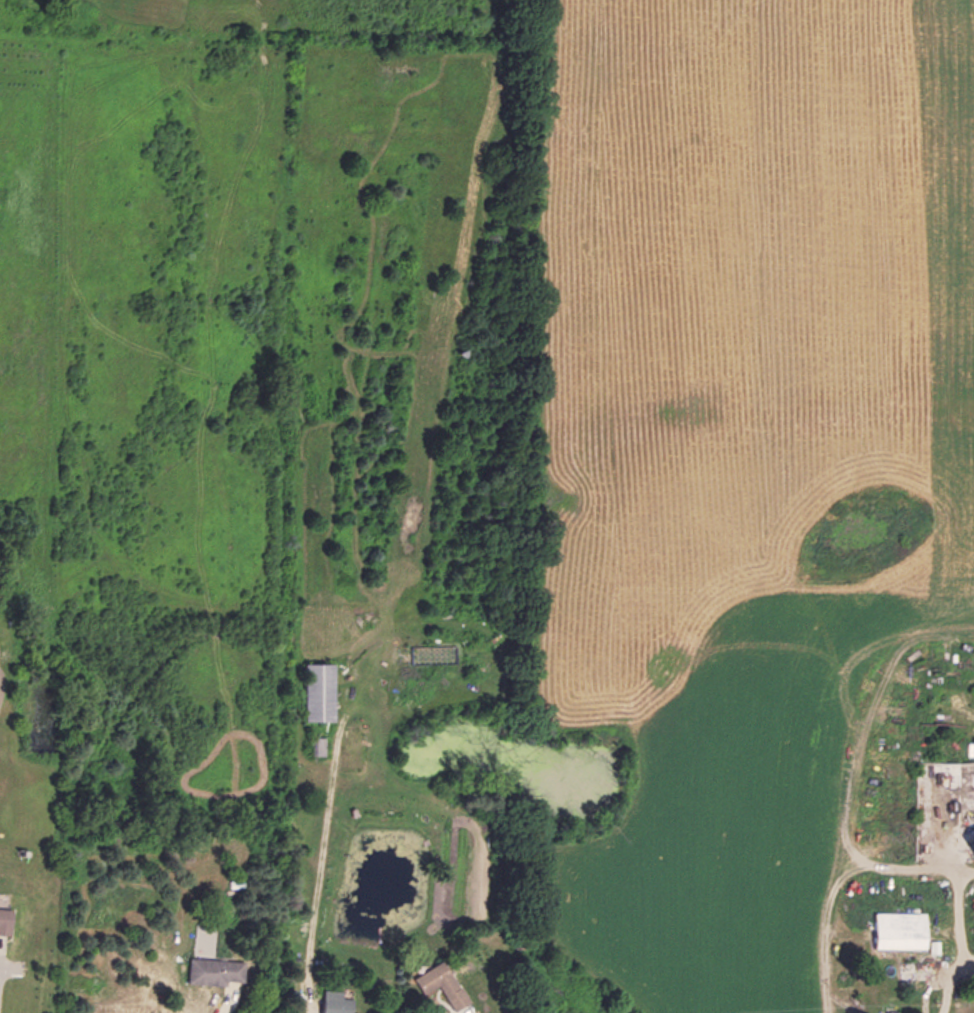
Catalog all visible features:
building: (321, 690)
building: (319, 745)
road: (952, 914)
building: (6, 919)
building: (902, 929)
building: (216, 969)
road: (947, 982)
building: (443, 983)
building: (338, 1001)
road: (316, 1011)

